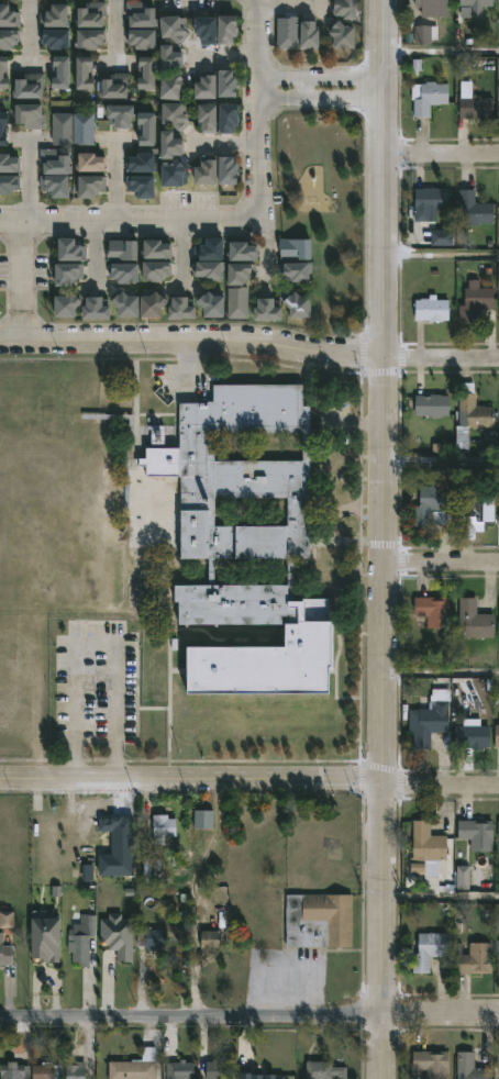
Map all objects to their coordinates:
building: (474, 5)
road: (291, 7)
building: (431, 8)
building: (350, 9)
building: (95, 14)
building: (143, 14)
building: (9, 15)
building: (58, 16)
road: (31, 20)
building: (178, 27)
building: (210, 29)
building: (231, 29)
road: (117, 30)
building: (289, 32)
building: (313, 34)
building: (423, 34)
building: (345, 35)
building: (9, 38)
building: (57, 38)
building: (91, 38)
building: (144, 38)
road: (437, 51)
road: (229, 57)
building: (174, 58)
building: (63, 71)
road: (260, 71)
building: (7, 74)
building: (89, 74)
building: (149, 74)
road: (319, 75)
building: (231, 84)
building: (209, 86)
building: (32, 87)
building: (118, 87)
building: (177, 87)
building: (425, 97)
road: (319, 99)
building: (473, 103)
building: (179, 114)
building: (31, 115)
building: (124, 115)
building: (211, 118)
building: (233, 119)
building: (4, 129)
building: (63, 129)
building: (86, 129)
building: (151, 130)
road: (230, 144)
building: (174, 145)
road: (437, 156)
building: (56, 163)
building: (144, 163)
building: (10, 164)
building: (92, 164)
building: (211, 171)
building: (232, 171)
building: (177, 174)
road: (377, 178)
road: (30, 179)
road: (118, 181)
road: (260, 181)
building: (10, 185)
building: (58, 185)
building: (93, 186)
building: (143, 186)
building: (426, 202)
building: (472, 209)
road: (130, 220)
building: (441, 238)
road: (179, 246)
road: (92, 249)
building: (123, 249)
building: (214, 249)
road: (266, 249)
building: (297, 249)
building: (73, 251)
building: (157, 251)
building: (244, 252)
road: (437, 259)
building: (156, 271)
building: (211, 271)
building: (298, 272)
building: (127, 274)
building: (240, 274)
building: (68, 275)
road: (21, 280)
building: (474, 301)
building: (241, 302)
building: (127, 303)
building: (155, 303)
building: (215, 303)
building: (69, 304)
building: (302, 304)
building: (185, 309)
building: (99, 310)
building: (269, 310)
building: (430, 310)
building: (498, 310)
road: (189, 337)
road: (437, 357)
building: (3, 403)
building: (21, 403)
building: (46, 403)
building: (429, 403)
building: (472, 409)
building: (22, 436)
building: (48, 436)
building: (73, 443)
building: (96, 443)
road: (439, 465)
building: (430, 505)
building: (475, 511)
building: (498, 515)
building: (262, 516)
building: (251, 541)
road: (439, 560)
road: (378, 570)
building: (431, 610)
building: (498, 611)
building: (473, 619)
road: (95, 644)
building: (333, 652)
building: (333, 680)
road: (439, 681)
building: (307, 713)
building: (333, 715)
building: (429, 718)
building: (237, 721)
building: (276, 724)
building: (469, 734)
building: (496, 734)
building: (307, 735)
building: (193, 736)
building: (335, 741)
road: (189, 777)
road: (437, 787)
building: (165, 827)
building: (497, 830)
building: (475, 833)
building: (425, 841)
road: (437, 897)
building: (318, 920)
road: (378, 931)
building: (48, 937)
building: (153, 938)
building: (210, 942)
building: (82, 943)
building: (426, 950)
building: (5, 952)
building: (496, 955)
building: (472, 957)
road: (285, 966)
road: (46, 975)
road: (92, 979)
road: (8, 993)
road: (249, 1014)
building: (430, 1063)
building: (497, 1064)
building: (136, 1066)
building: (469, 1067)
building: (217, 1069)
building: (47, 1070)
building: (180, 1070)
building: (324, 1070)
building: (15, 1071)
building: (76, 1071)

